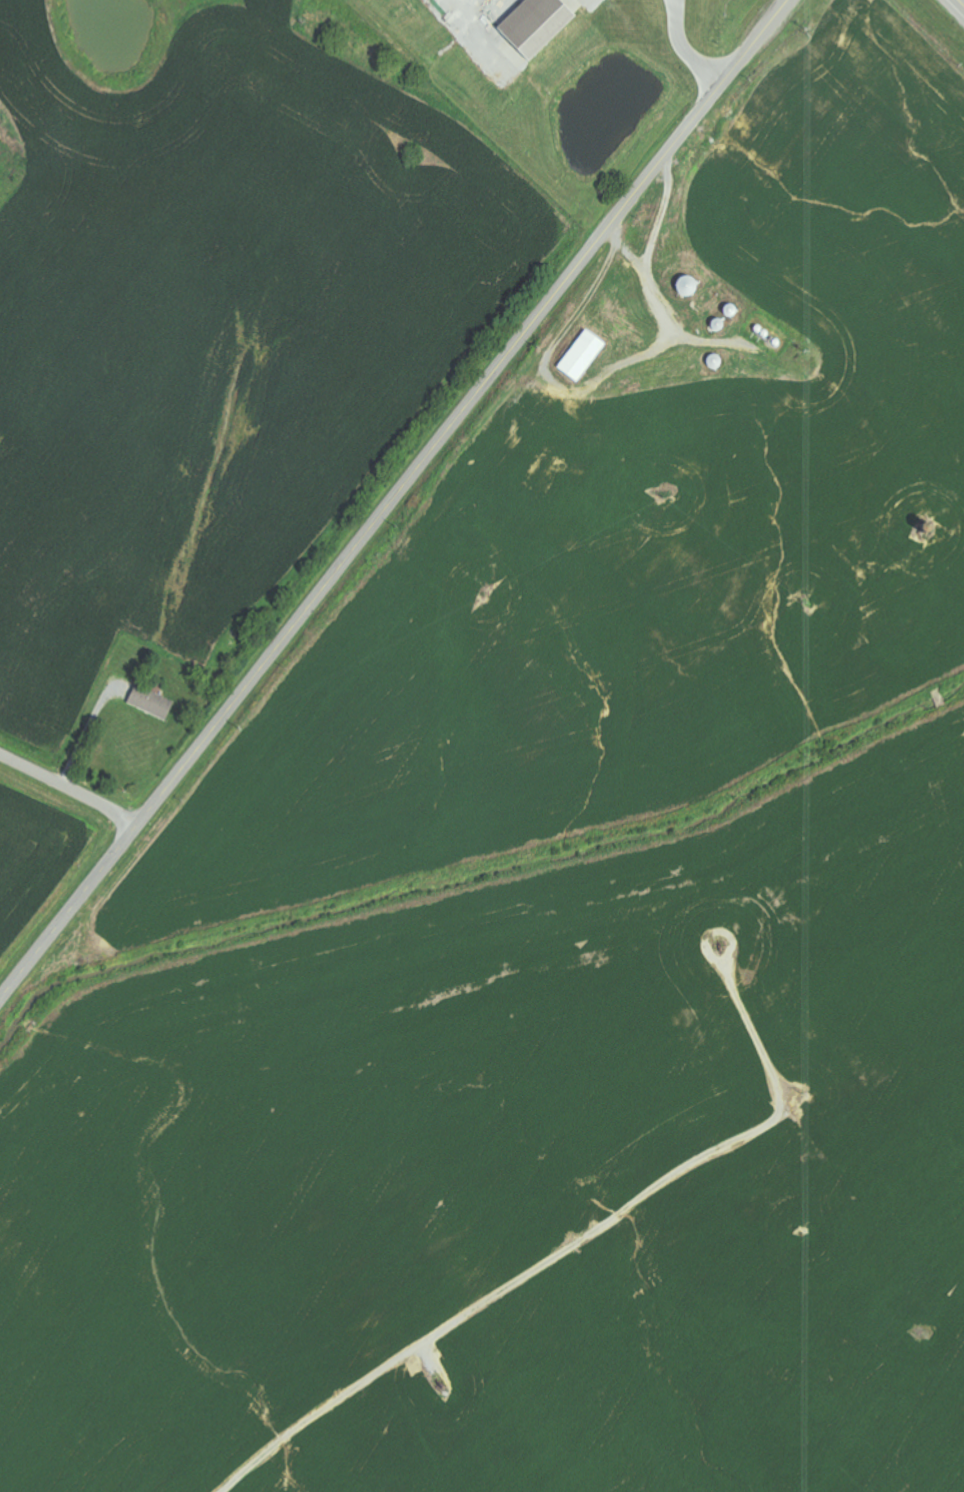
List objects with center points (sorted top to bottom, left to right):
building: (541, 23)
building: (585, 355)
road: (393, 499)
building: (154, 702)
road: (68, 789)

